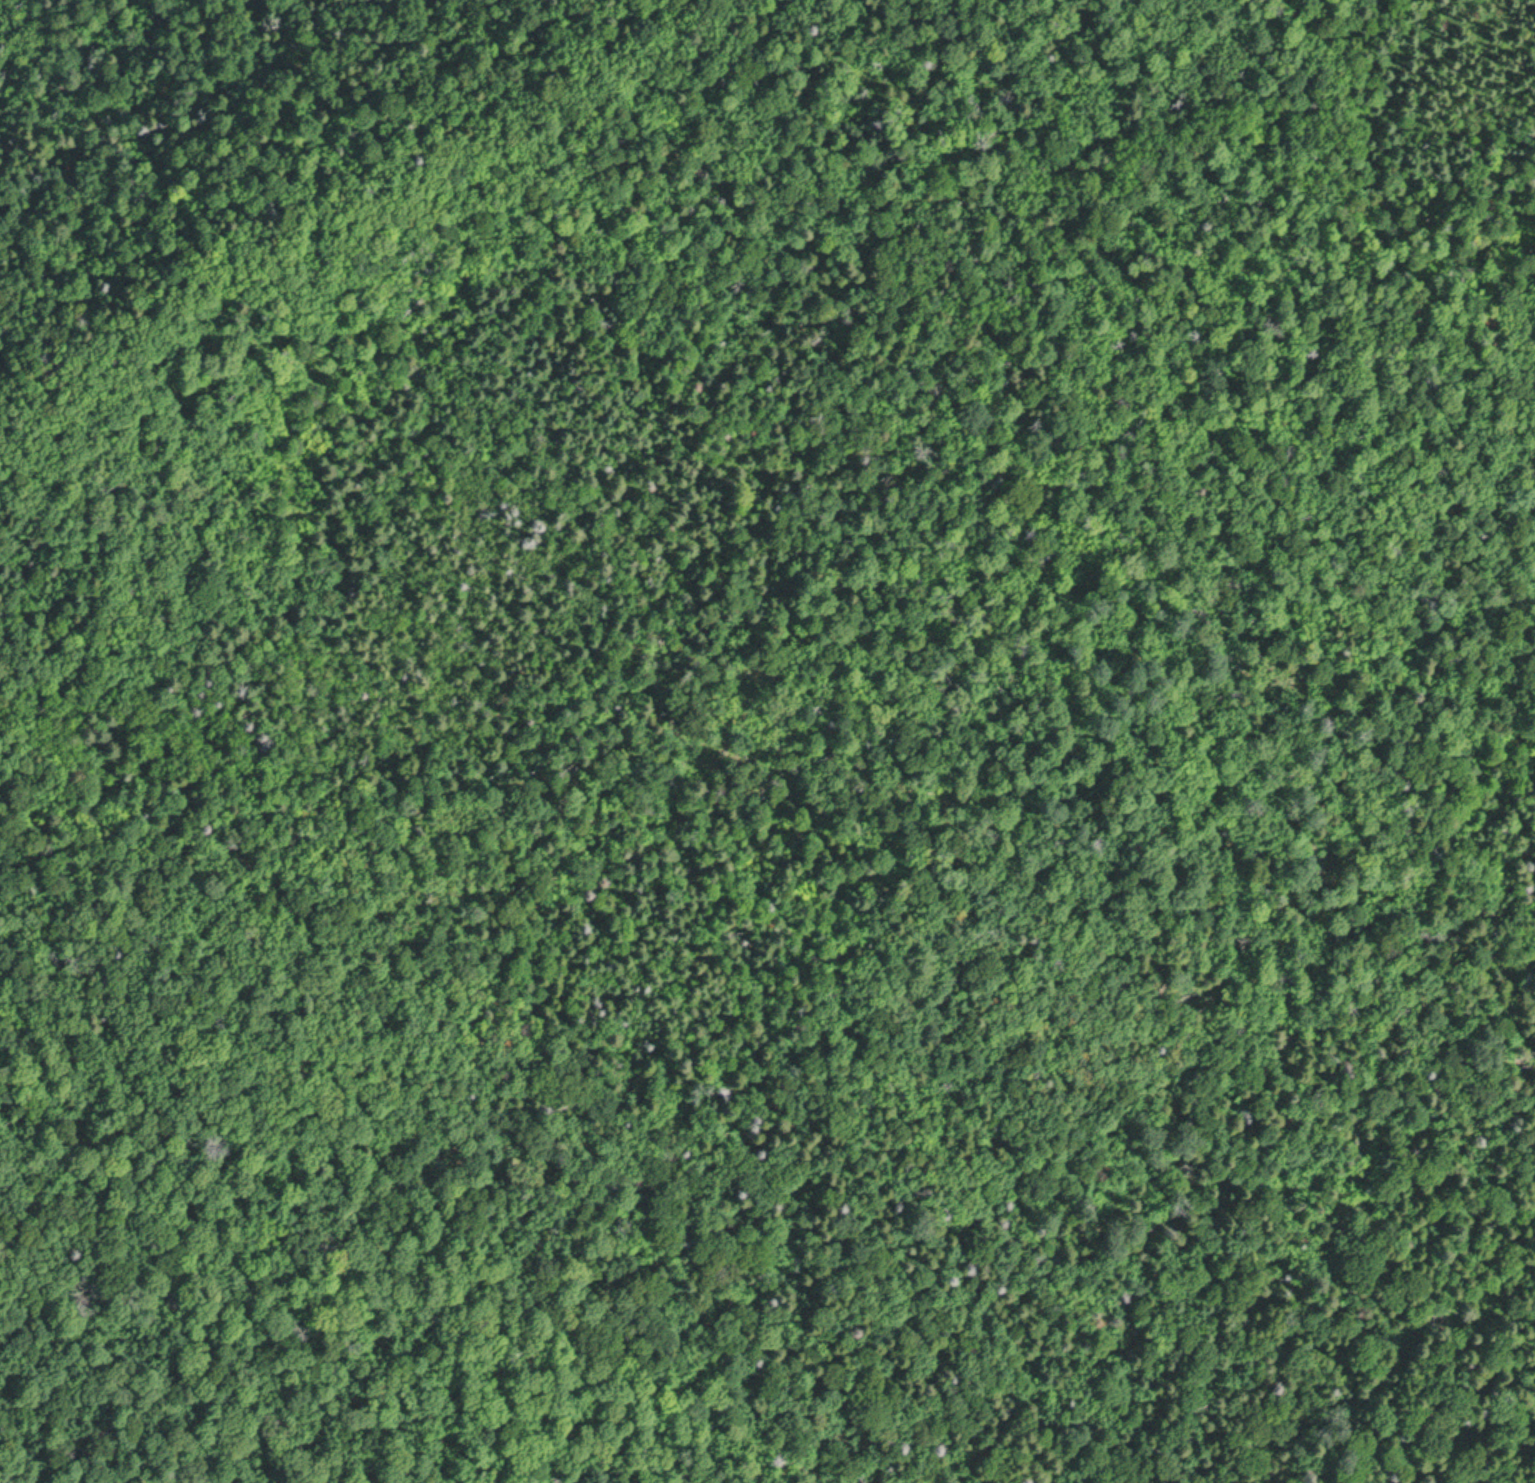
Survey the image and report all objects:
road: (727, 304)

